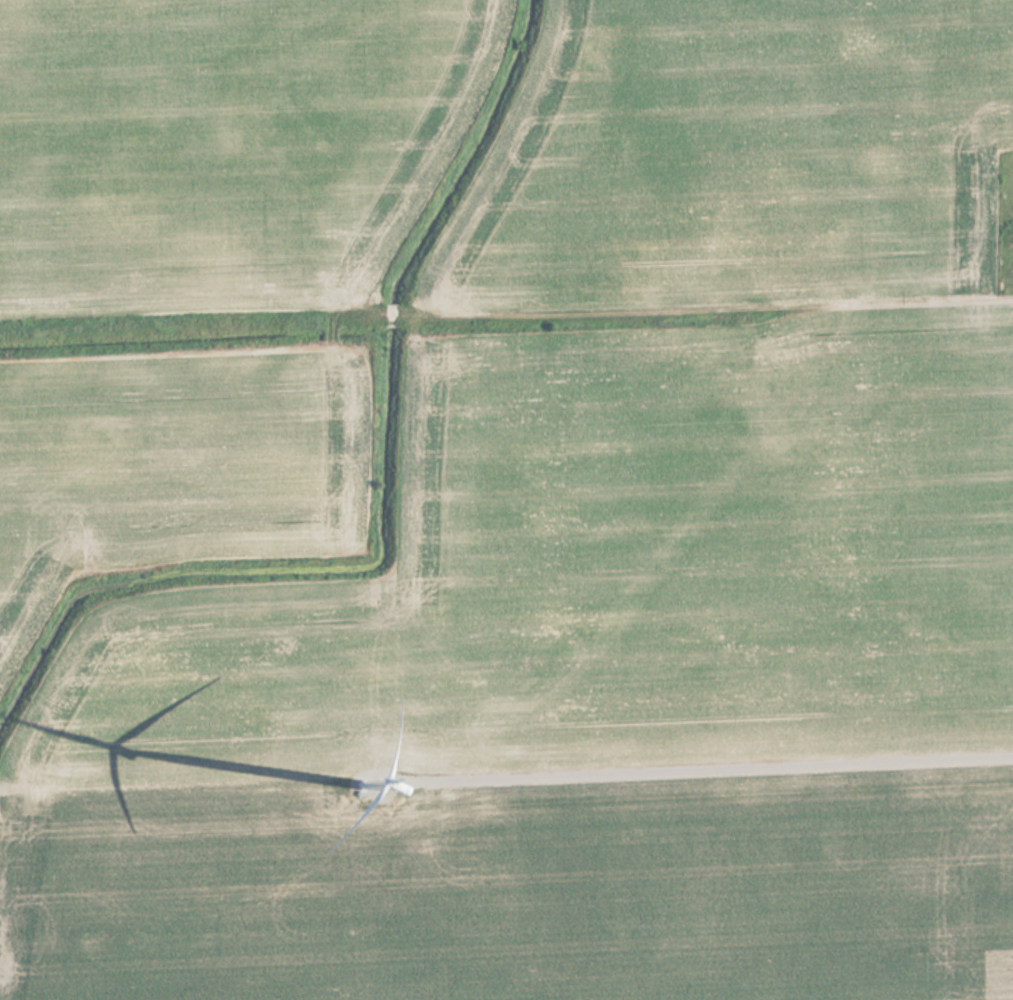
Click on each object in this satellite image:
wind turbine: (387, 788)

